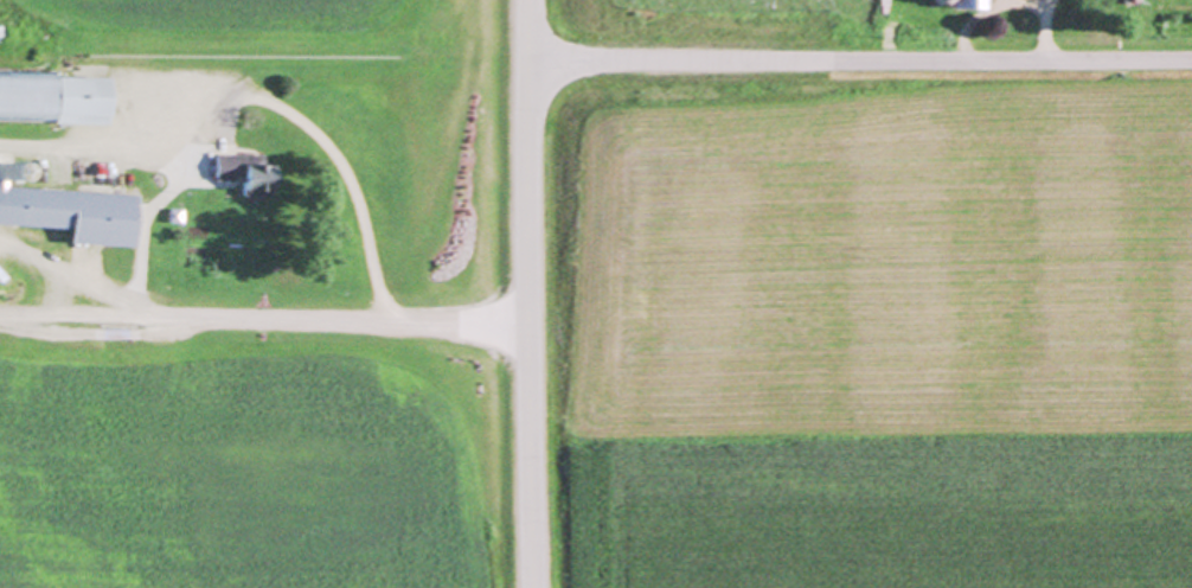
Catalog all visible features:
building: (1129, 0)
building: (972, 4)
road: (1047, 28)
road: (861, 59)
road: (267, 98)
building: (250, 172)
building: (76, 212)
road: (81, 279)
road: (532, 293)
road: (201, 318)
road: (468, 325)

